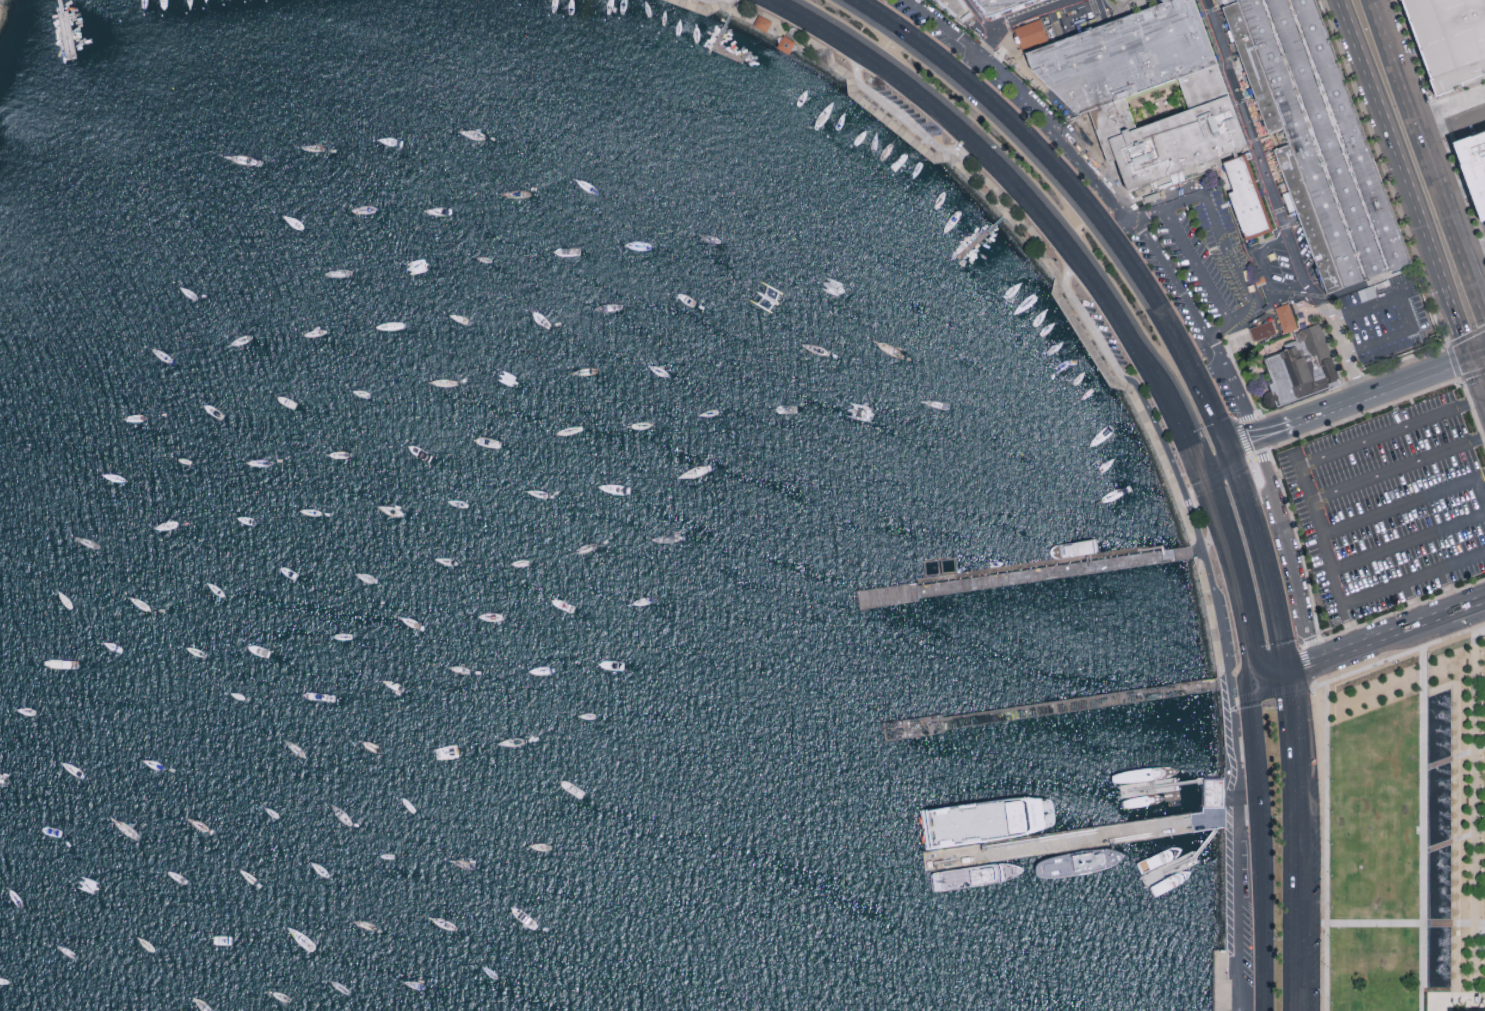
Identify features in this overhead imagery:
road: (862, 3)
road: (60, 6)
building: (999, 6)
road: (725, 22)
building: (762, 23)
road: (834, 29)
pier: (66, 35)
pier: (66, 35)
building: (1451, 40)
building: (785, 44)
pier: (718, 50)
road: (970, 66)
road: (1368, 80)
road: (975, 92)
road: (1031, 99)
building: (1154, 101)
road: (1448, 103)
parking lot: (907, 108)
road: (900, 118)
road: (972, 136)
building: (1328, 139)
building: (1478, 156)
road: (1426, 160)
road: (1448, 176)
road: (1476, 180)
road: (1276, 204)
road: (1416, 212)
parking lot: (1147, 220)
road: (1095, 221)
road: (995, 223)
road: (1122, 229)
pier: (973, 243)
road: (1223, 245)
road: (1473, 250)
road: (1043, 255)
road: (1196, 267)
road: (1264, 273)
building: (1364, 295)
road: (1117, 308)
road: (1452, 311)
road: (1405, 313)
road: (1201, 325)
building: (1278, 328)
parking lot: (1105, 331)
road: (1451, 356)
road: (1477, 357)
traffic signals: (1469, 360)
building: (1302, 369)
road: (1209, 370)
road: (1476, 382)
road: (1380, 393)
road: (1473, 410)
road: (1389, 431)
road: (1190, 437)
road: (1258, 438)
road: (1223, 444)
traffic signals: (1227, 454)
road: (1215, 462)
road: (1235, 466)
road: (1397, 467)
traffic signals: (1205, 472)
road: (1206, 477)
road: (1480, 490)
road: (1184, 493)
road: (1191, 495)
road: (1187, 501)
road: (1403, 503)
parking lot: (1393, 509)
road: (1408, 541)
road: (1288, 551)
pier: (1033, 575)
road: (1237, 578)
road: (1447, 590)
road: (1341, 601)
road: (1411, 603)
road: (1466, 607)
road: (1348, 627)
parking lot: (1227, 629)
road: (1473, 632)
road: (1309, 643)
road: (1367, 644)
traffic signals: (1285, 671)
road: (1268, 674)
traffic signals: (1252, 678)
road: (1319, 684)
road: (1288, 690)
road: (1479, 691)
road: (1290, 707)
pier: (1053, 708)
fountain: (1438, 726)
road: (1453, 757)
road: (1479, 759)
road: (1256, 760)
road: (1325, 761)
road: (1479, 775)
pier: (1190, 781)
pier: (1148, 786)
building: (1214, 792)
fountain: (1439, 804)
road: (1474, 821)
road: (1243, 822)
road: (1455, 823)
road: (1422, 828)
pier: (1085, 834)
park: (1407, 834)
road: (1453, 839)
pier: (1205, 841)
road: (1479, 844)
road: (1228, 852)
pier: (1169, 868)
road: (1479, 871)
road: (1293, 877)
fountain: (1439, 882)
road: (1405, 923)
road: (1266, 927)
road: (1238, 928)
parking lot: (1241, 931)
fountain: (1439, 957)
road: (1457, 999)
road: (1429, 1005)
building: (1468, 1009)

